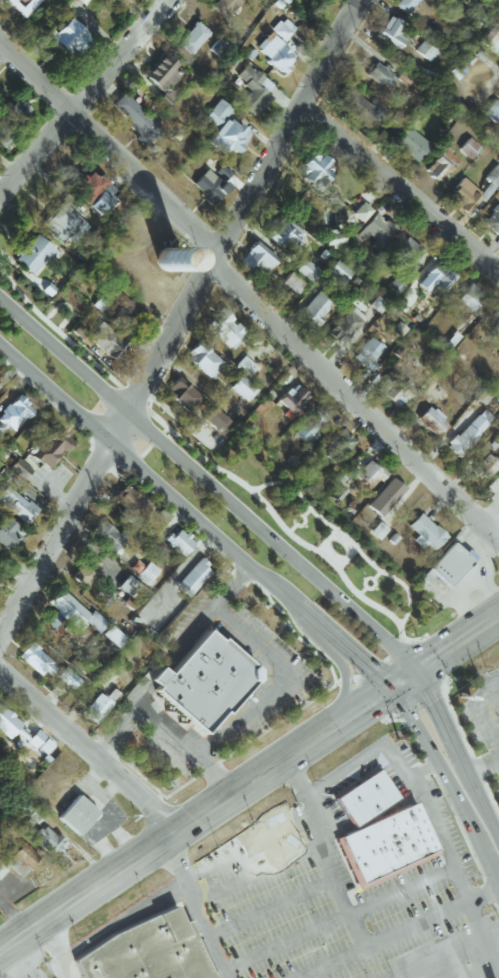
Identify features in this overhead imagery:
building: (283, 0)
building: (121, 2)
building: (403, 4)
building: (21, 5)
building: (225, 6)
building: (283, 28)
building: (391, 31)
building: (70, 37)
building: (192, 37)
building: (490, 39)
building: (424, 50)
building: (275, 52)
building: (161, 72)
building: (378, 74)
building: (251, 90)
road: (82, 94)
building: (2, 95)
building: (166, 97)
building: (492, 110)
building: (369, 112)
building: (135, 118)
building: (12, 122)
building: (224, 128)
building: (410, 143)
building: (467, 148)
road: (106, 158)
building: (440, 164)
building: (316, 173)
building: (88, 185)
building: (208, 185)
building: (472, 191)
road: (396, 195)
building: (99, 203)
building: (361, 211)
building: (492, 220)
building: (64, 225)
building: (375, 231)
building: (283, 232)
building: (332, 237)
building: (407, 251)
building: (34, 254)
building: (257, 257)
water tower: (163, 264)
building: (306, 270)
building: (337, 270)
building: (435, 277)
building: (293, 282)
building: (394, 286)
building: (470, 296)
building: (315, 307)
building: (123, 311)
road: (179, 312)
building: (224, 328)
building: (345, 328)
building: (77, 331)
building: (494, 331)
building: (106, 341)
building: (368, 353)
building: (498, 354)
building: (204, 360)
building: (244, 366)
building: (498, 384)
building: (241, 387)
building: (393, 389)
building: (434, 393)
building: (182, 394)
building: (292, 399)
road: (351, 409)
building: (259, 410)
building: (14, 413)
building: (213, 419)
building: (431, 420)
building: (309, 424)
building: (468, 432)
building: (339, 440)
building: (496, 440)
building: (52, 448)
building: (484, 466)
building: (19, 468)
building: (368, 471)
road: (206, 494)
building: (385, 496)
building: (15, 504)
building: (128, 504)
road: (193, 527)
building: (377, 530)
building: (425, 532)
building: (8, 534)
building: (106, 534)
building: (178, 541)
building: (447, 564)
building: (86, 570)
building: (143, 571)
building: (192, 577)
building: (128, 586)
road: (226, 590)
building: (71, 612)
building: (113, 636)
building: (34, 659)
road: (168, 659)
road: (336, 676)
building: (67, 678)
building: (105, 679)
building: (150, 681)
building: (199, 685)
road: (279, 688)
traffic signals: (393, 688)
road: (484, 695)
parking lot: (488, 703)
building: (99, 705)
road: (470, 707)
road: (331, 727)
parking lot: (462, 728)
building: (17, 730)
road: (490, 731)
road: (110, 736)
road: (162, 736)
road: (485, 741)
building: (44, 746)
road: (85, 759)
road: (475, 772)
road: (209, 782)
road: (451, 782)
parking lot: (493, 798)
building: (358, 803)
building: (76, 817)
road: (427, 819)
building: (47, 840)
building: (381, 848)
building: (21, 859)
road: (314, 859)
building: (1, 861)
building: (393, 874)
parking lot: (348, 885)
road: (169, 891)
road: (82, 895)
road: (397, 897)
road: (261, 909)
road: (187, 911)
road: (14, 914)
road: (401, 934)
road: (276, 942)
road: (47, 944)
building: (143, 954)
road: (438, 959)
road: (493, 977)

